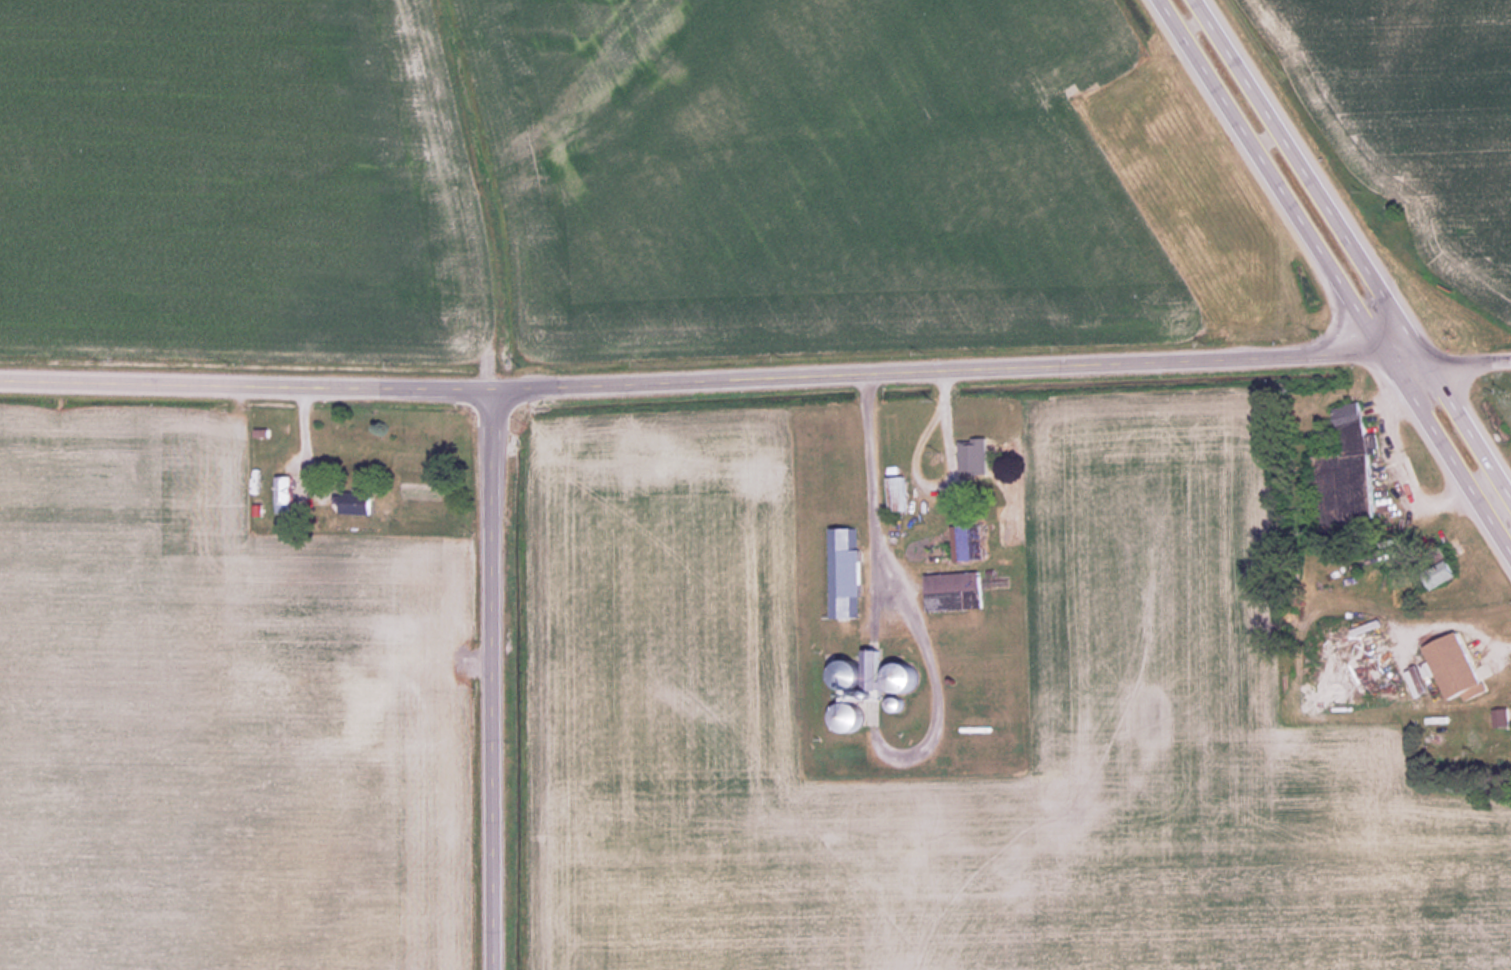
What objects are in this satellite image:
road: (1357, 243)
road: (1337, 274)
road: (1470, 356)
road: (716, 373)
road: (303, 439)
building: (966, 460)
road: (871, 474)
building: (1345, 475)
building: (283, 488)
building: (896, 493)
building: (355, 502)
building: (966, 541)
building: (844, 572)
building: (1441, 574)
building: (953, 591)
building: (1454, 667)
building: (850, 674)
building: (902, 676)
road: (495, 677)
building: (849, 716)
building: (1500, 718)

